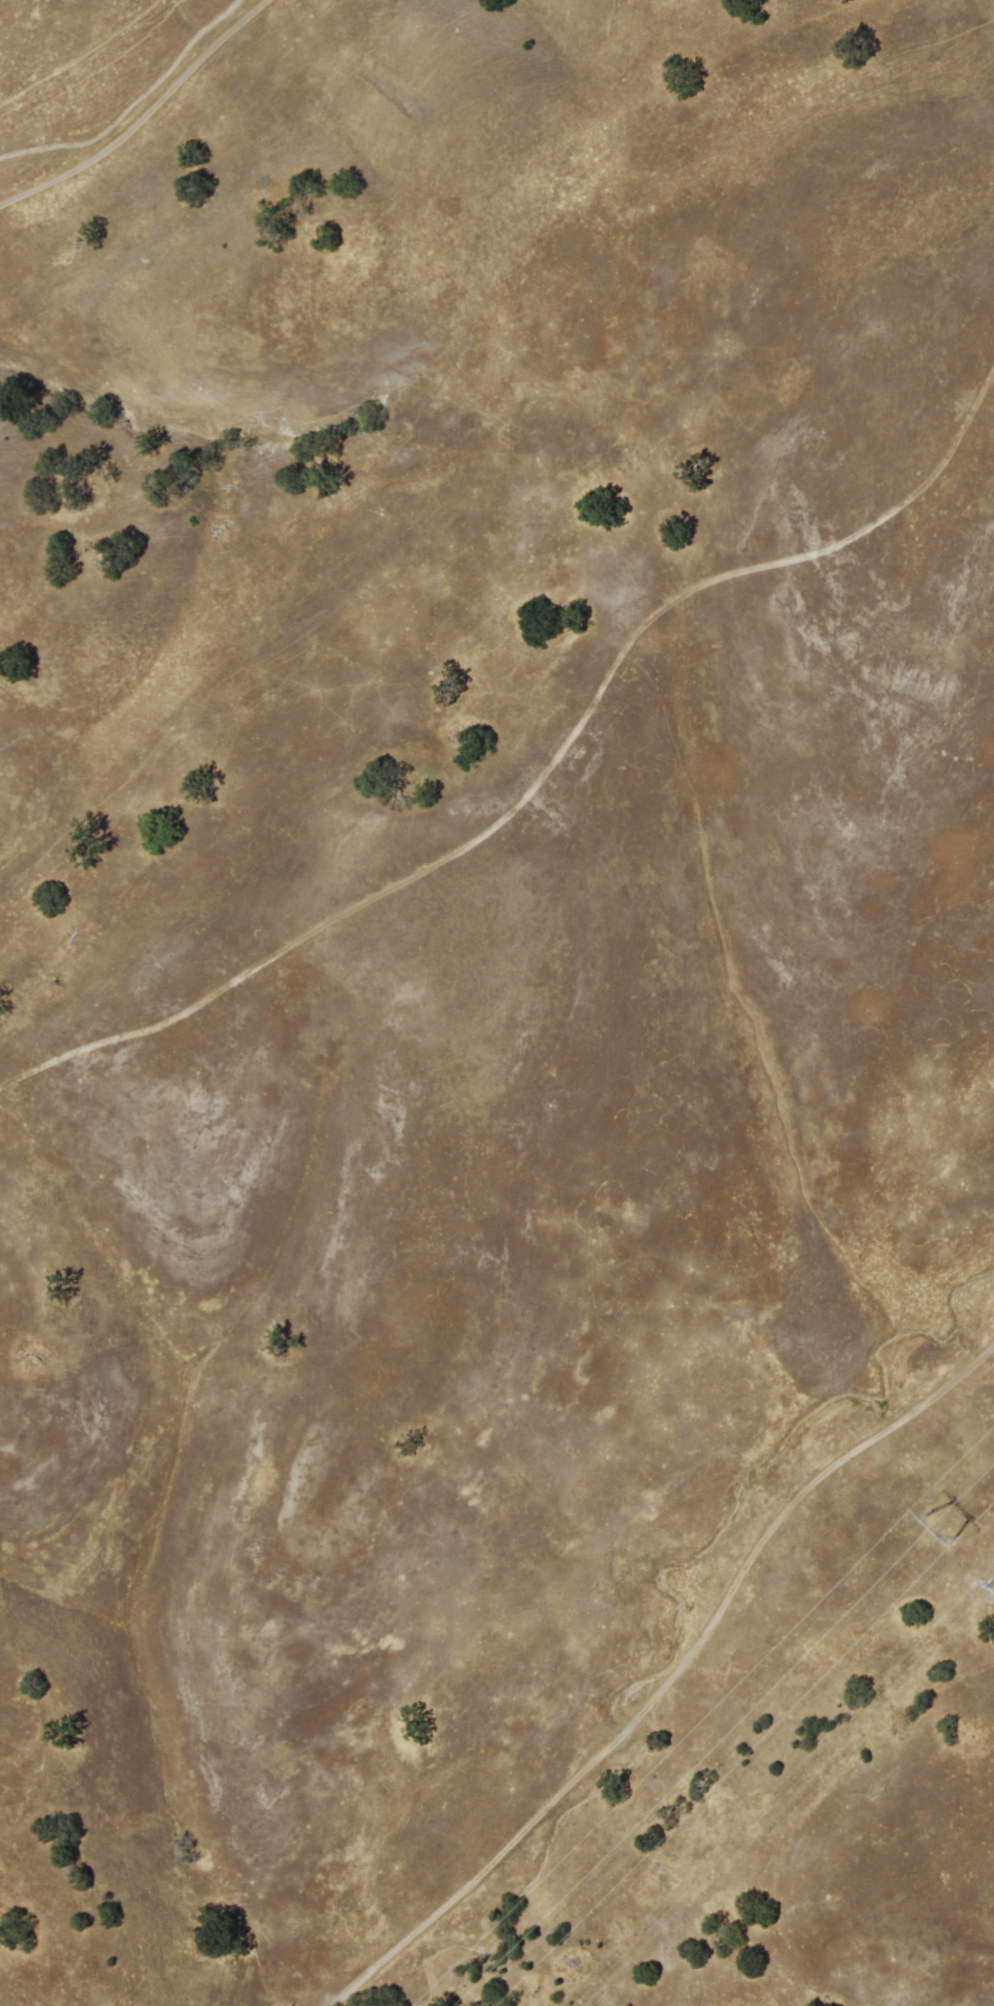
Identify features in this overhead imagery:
road: (146, 121)
road: (545, 779)
power tower: (937, 1539)
road: (671, 1680)

